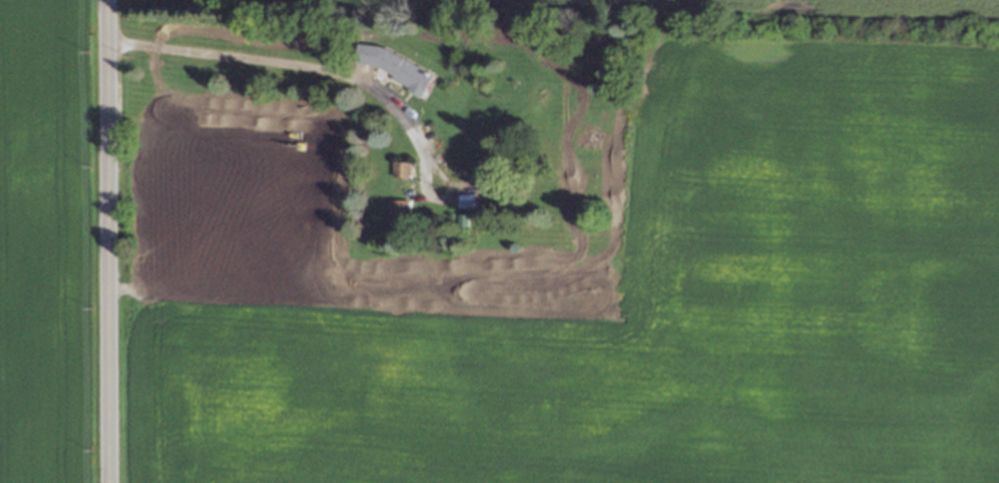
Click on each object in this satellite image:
crop: (692, 6)
road: (297, 68)
building: (406, 71)
building: (400, 168)
building: (395, 210)
building: (460, 221)
crop: (38, 241)
road: (104, 241)

